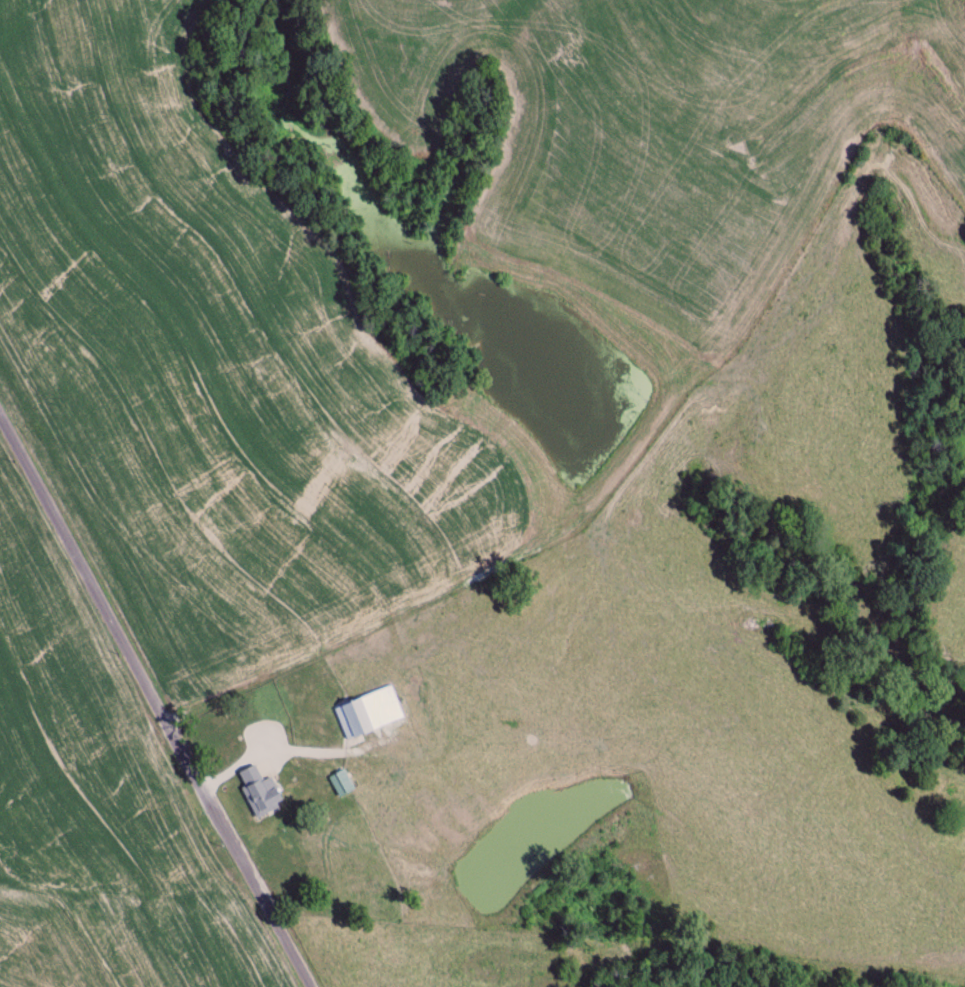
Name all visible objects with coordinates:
road: (155, 692)
building: (368, 712)
road: (275, 754)
building: (340, 783)
building: (258, 792)

